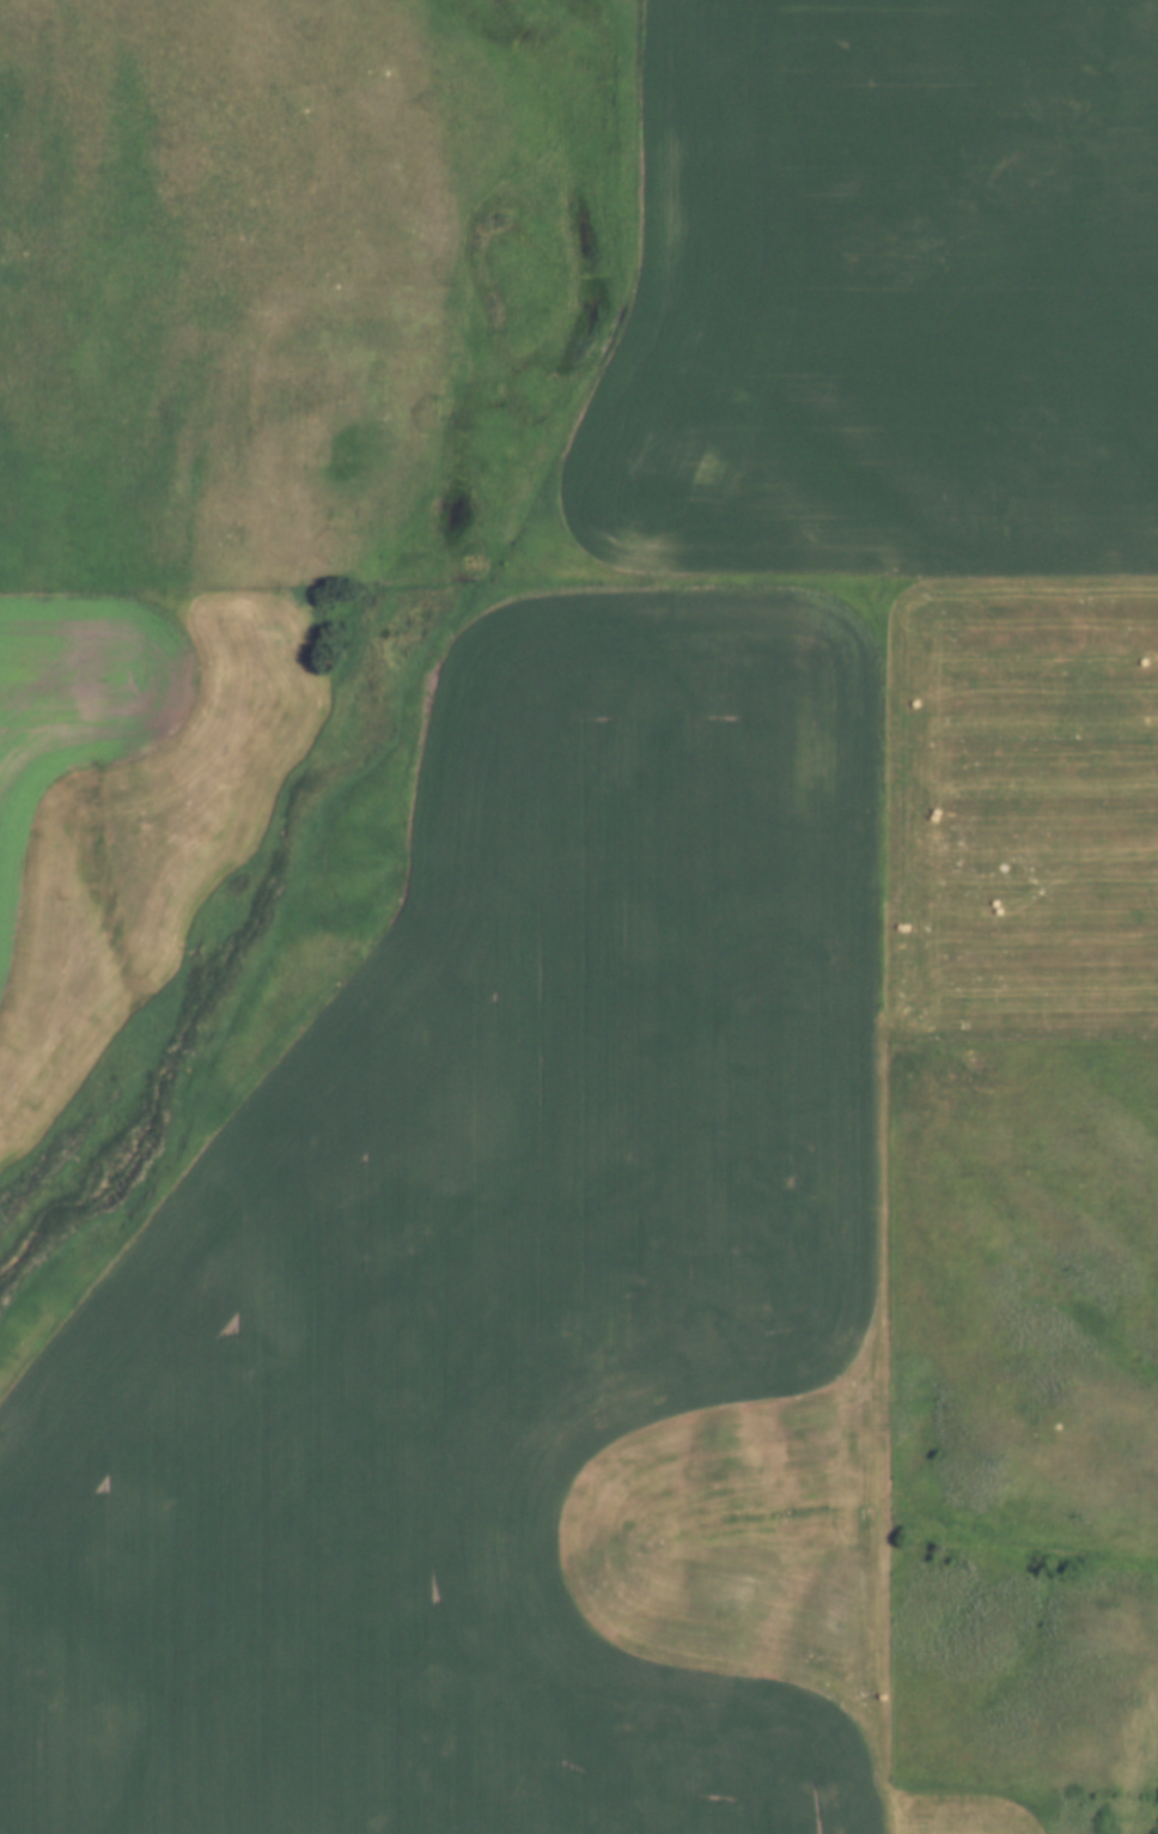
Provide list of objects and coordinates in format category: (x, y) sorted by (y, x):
road: (870, 1450)
road: (562, 1555)

